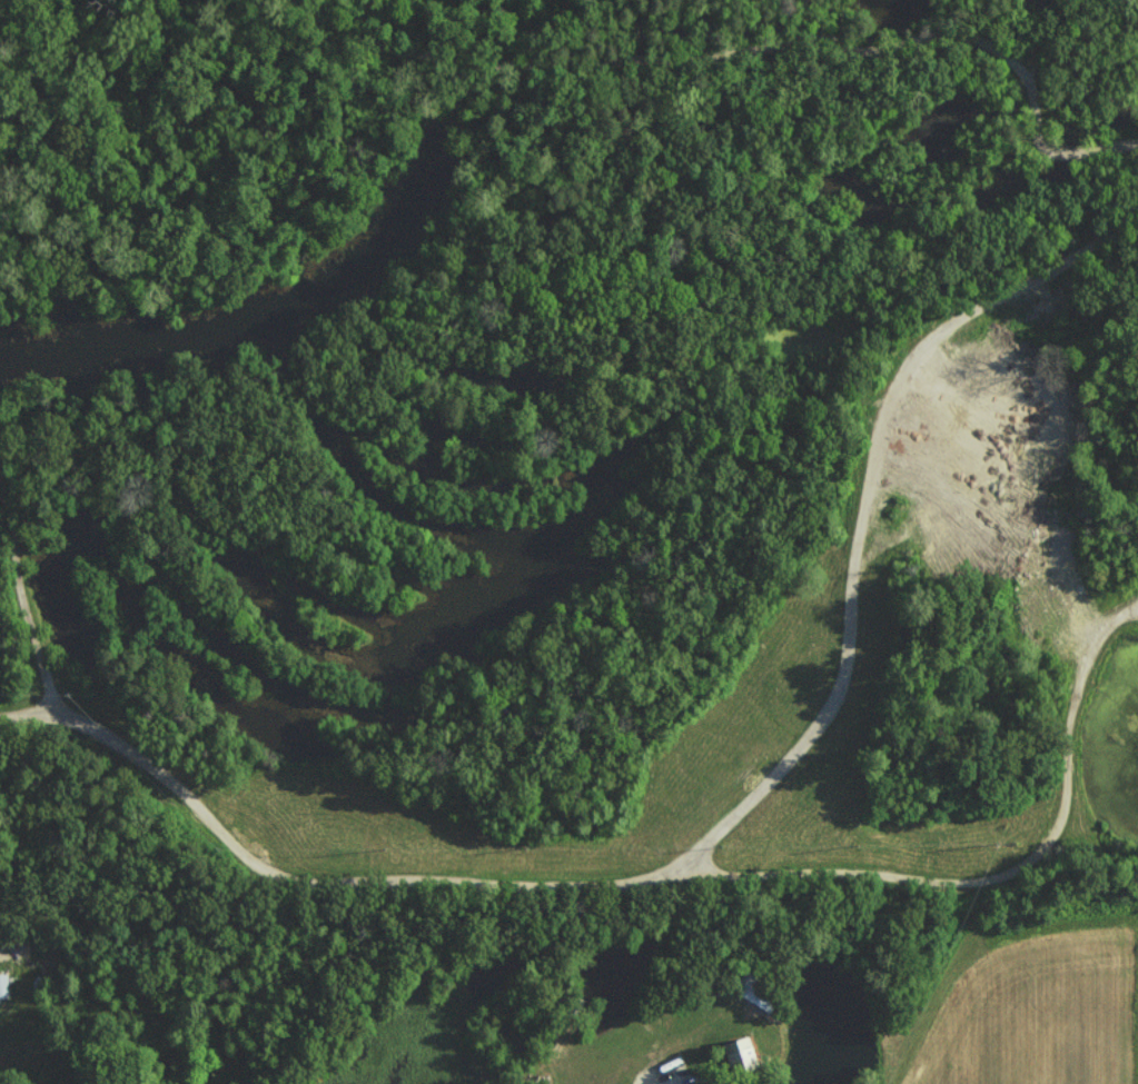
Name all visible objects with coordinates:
road: (799, 19)
road: (23, 600)
road: (729, 810)
road: (502, 903)
building: (741, 1052)
road: (664, 1077)

